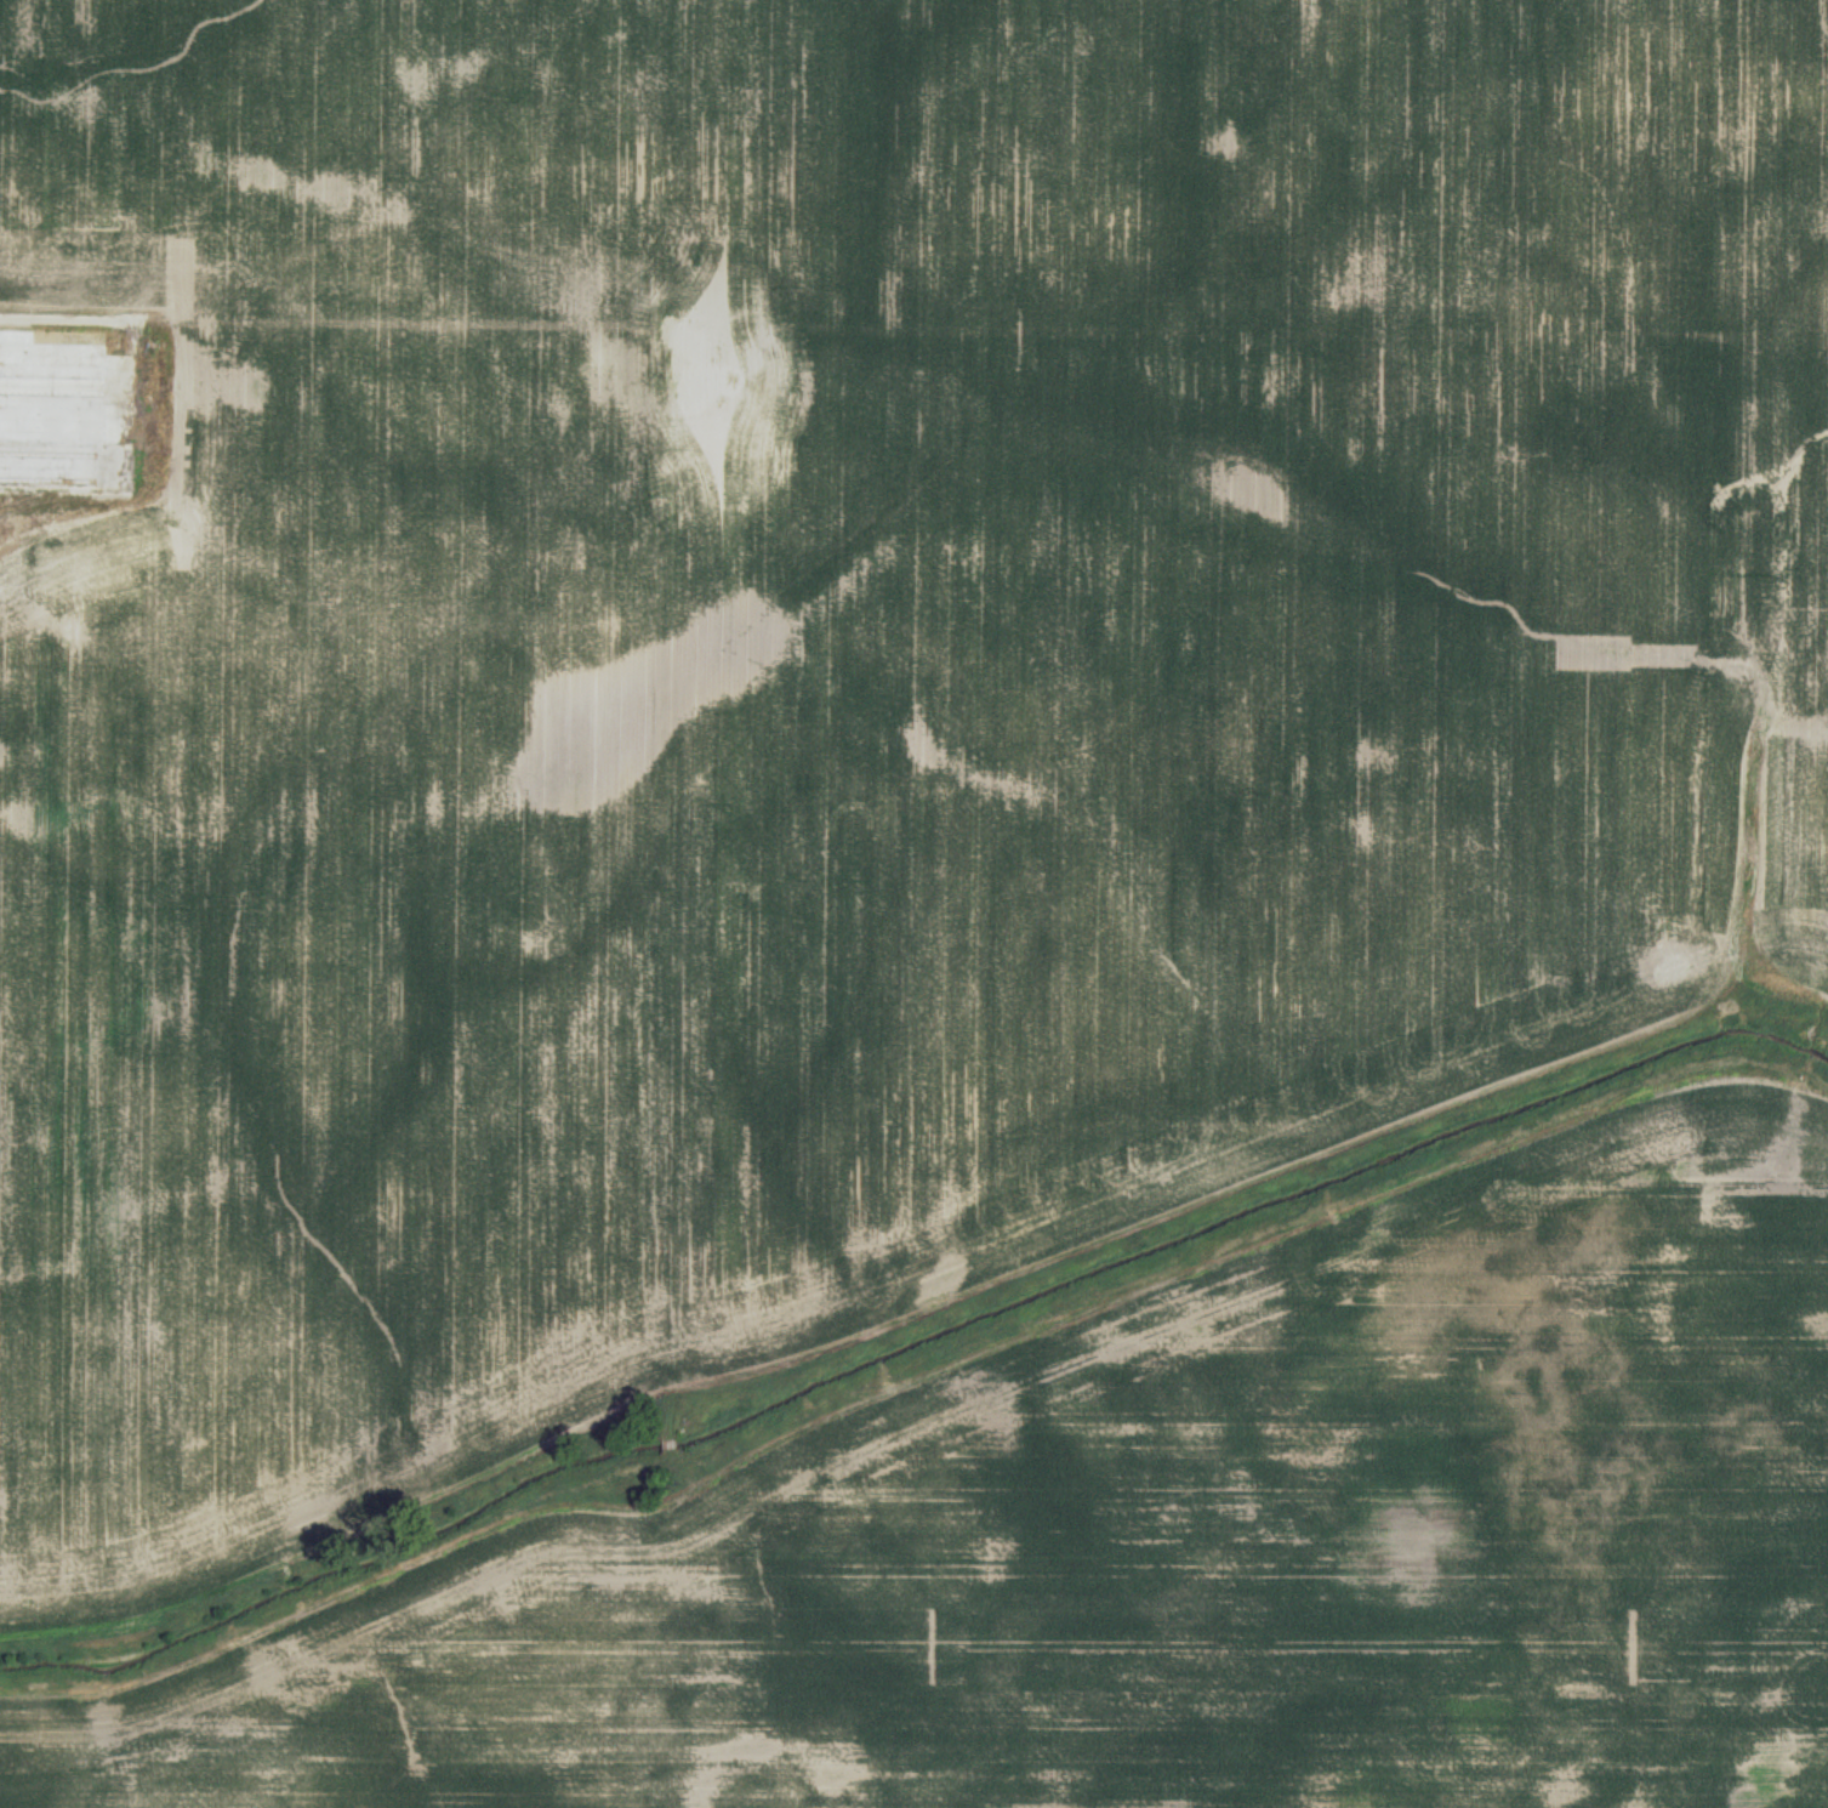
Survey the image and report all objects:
crop: (913, 904)

